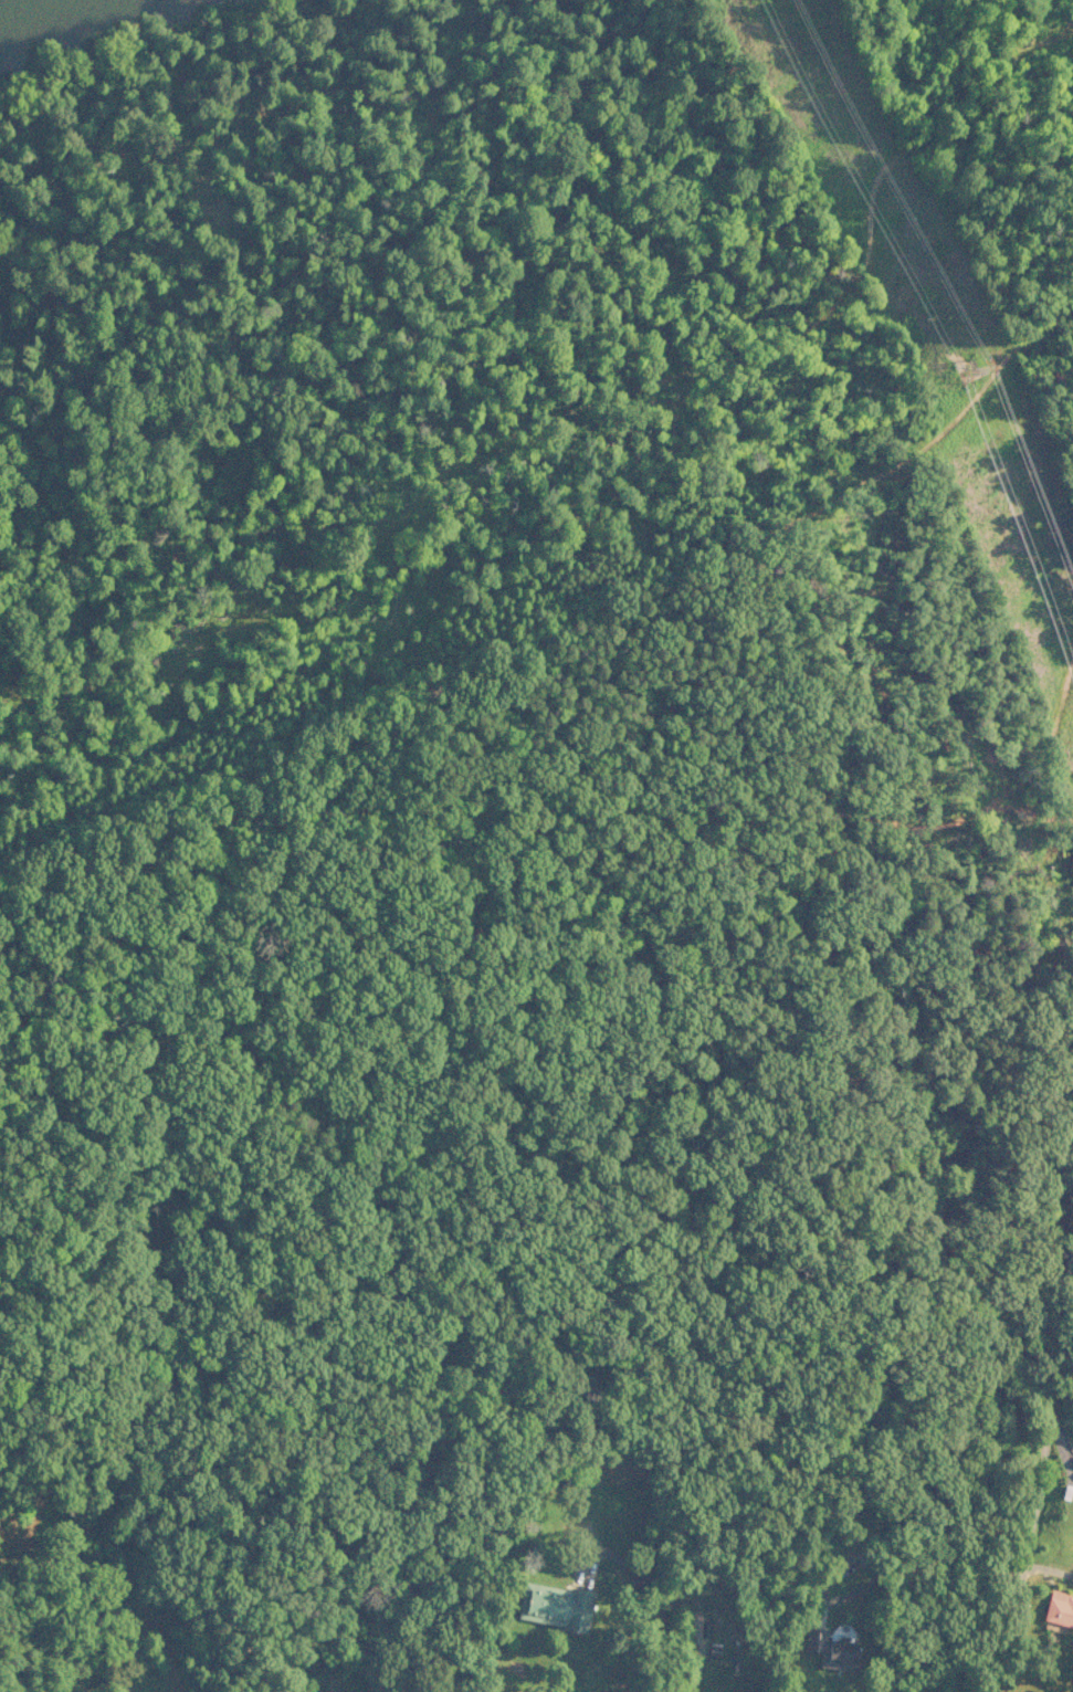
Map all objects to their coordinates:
river: (6, 2)
railway: (167, 69)
building: (1072, 1465)
road: (1024, 1543)
building: (1071, 1576)
building: (554, 1606)
building: (1059, 1610)
road: (539, 1646)
road: (699, 1650)
building: (830, 1650)

